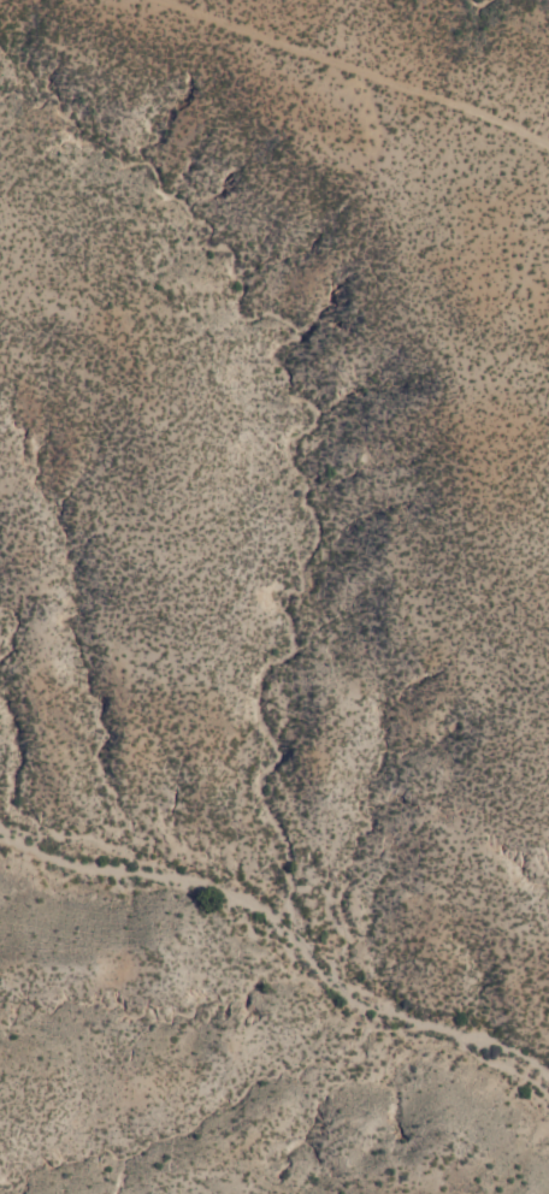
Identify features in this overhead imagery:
road: (349, 71)

